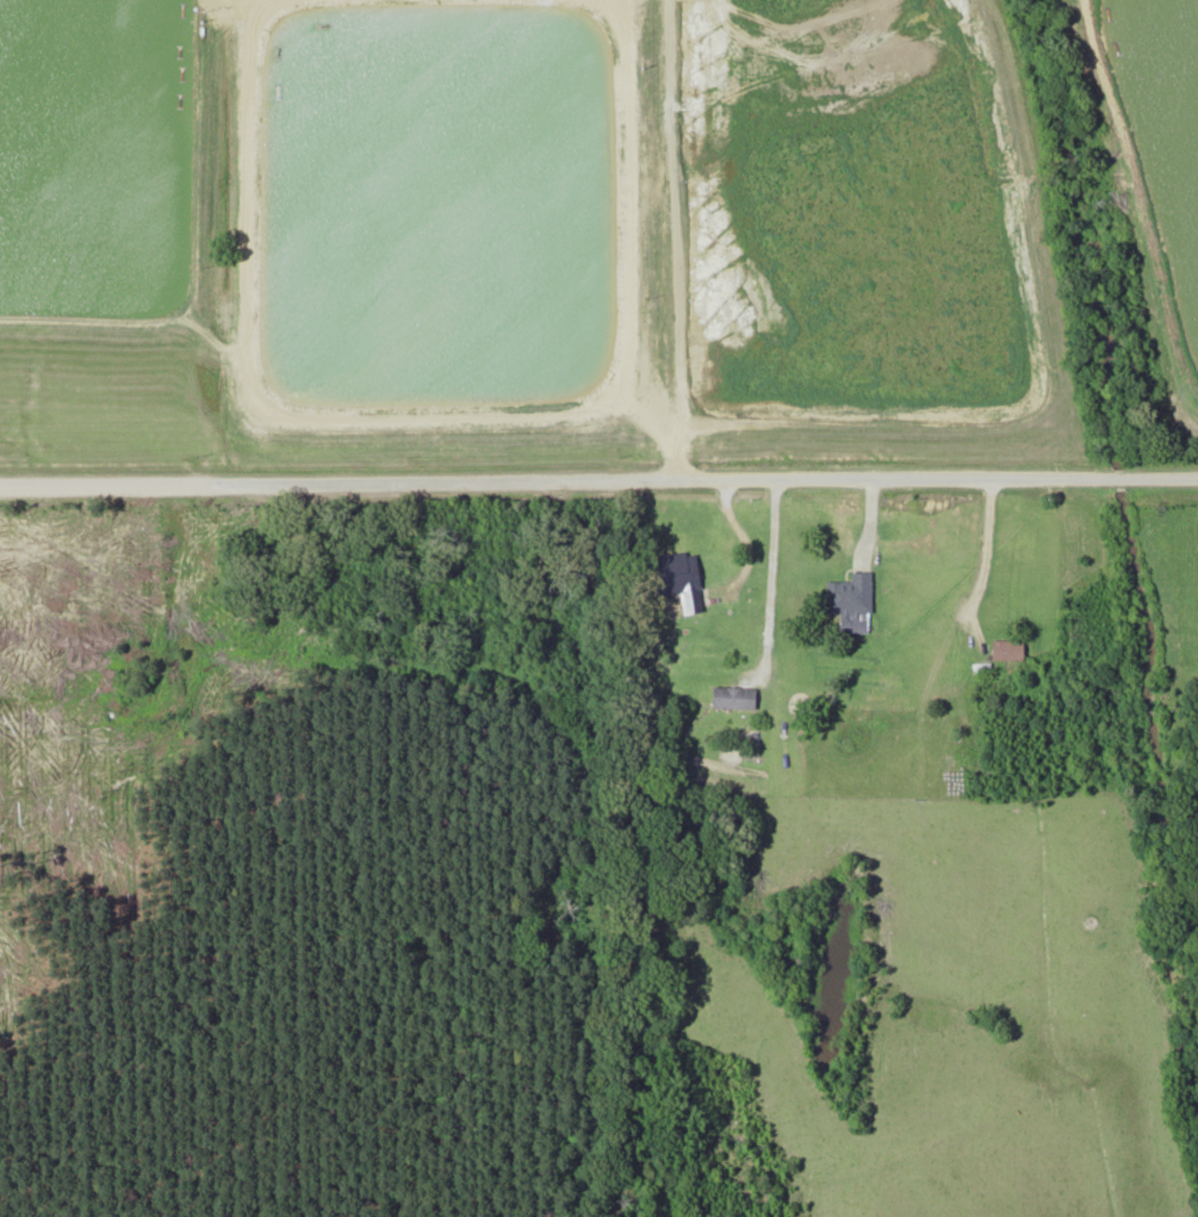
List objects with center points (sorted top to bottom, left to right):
road: (598, 473)
building: (1194, 573)
building: (689, 578)
building: (851, 594)
building: (1008, 648)
building: (734, 696)

